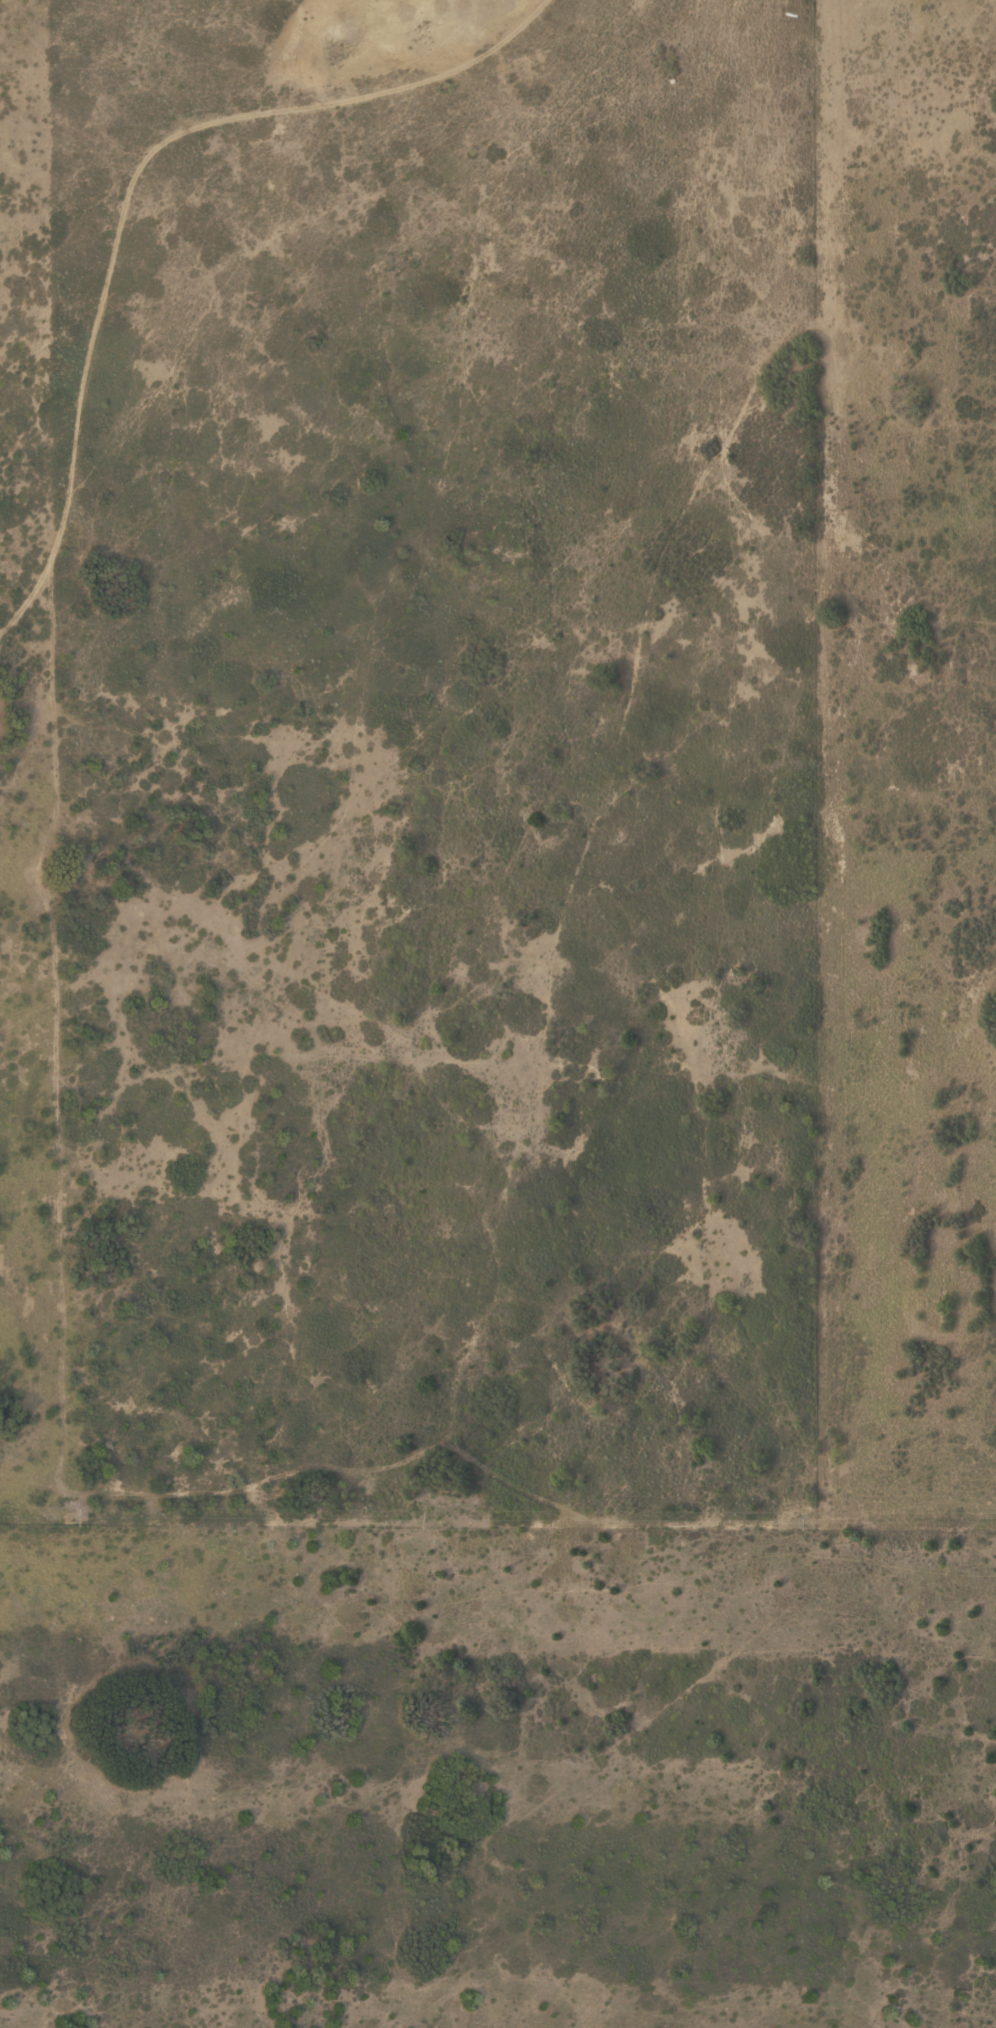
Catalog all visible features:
power tower: (87, 1518)
power tower: (440, 1519)
power tower: (814, 1521)

